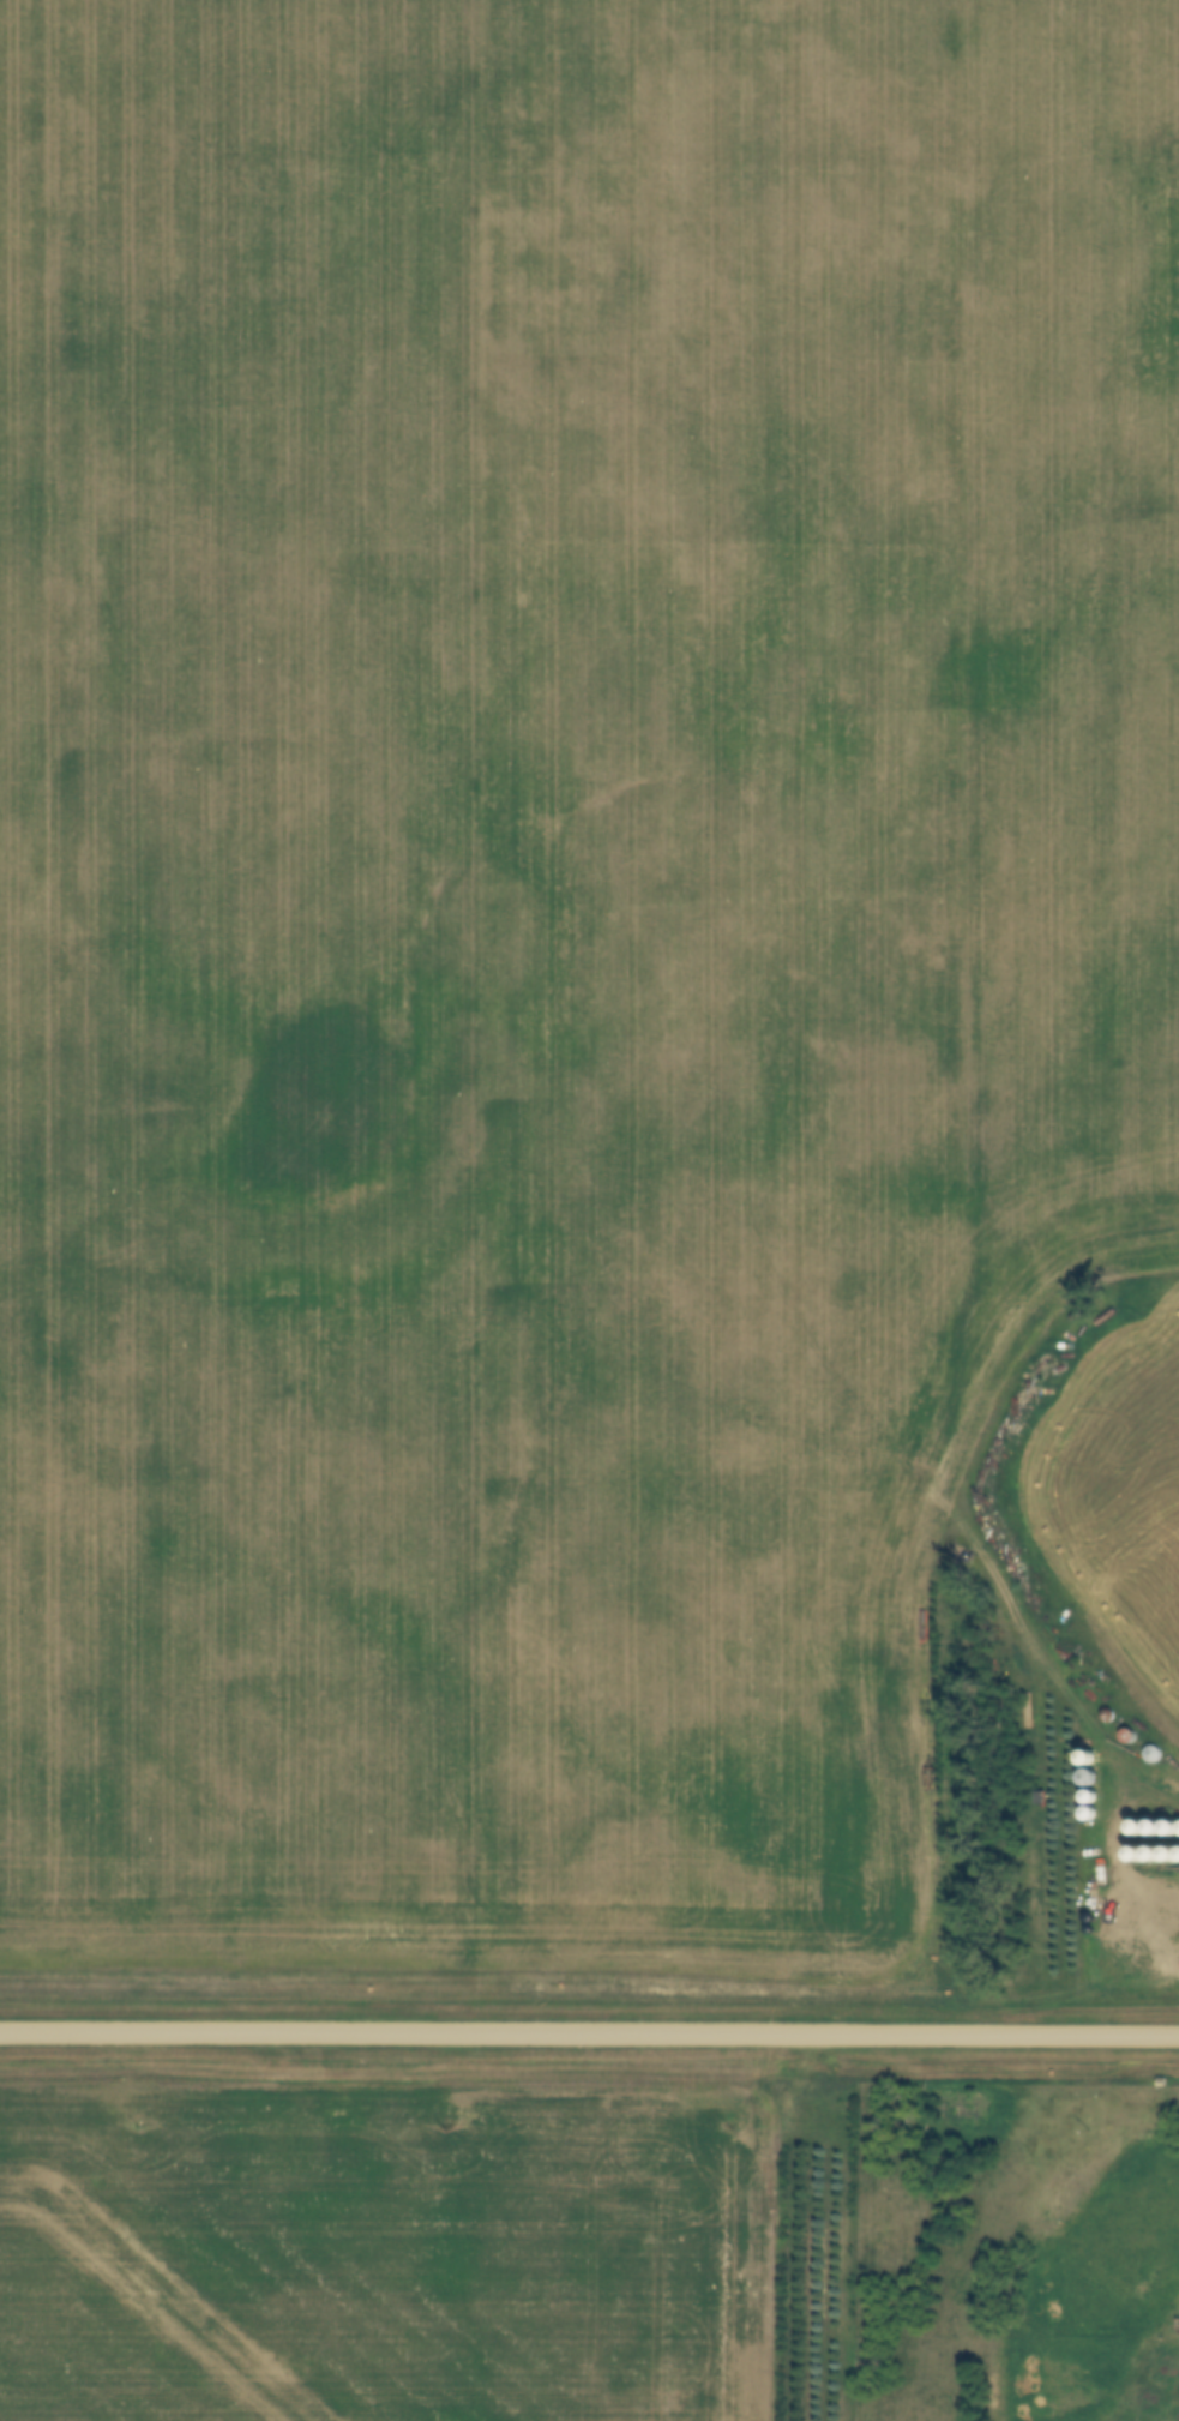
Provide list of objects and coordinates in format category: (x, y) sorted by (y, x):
road: (589, 2030)

